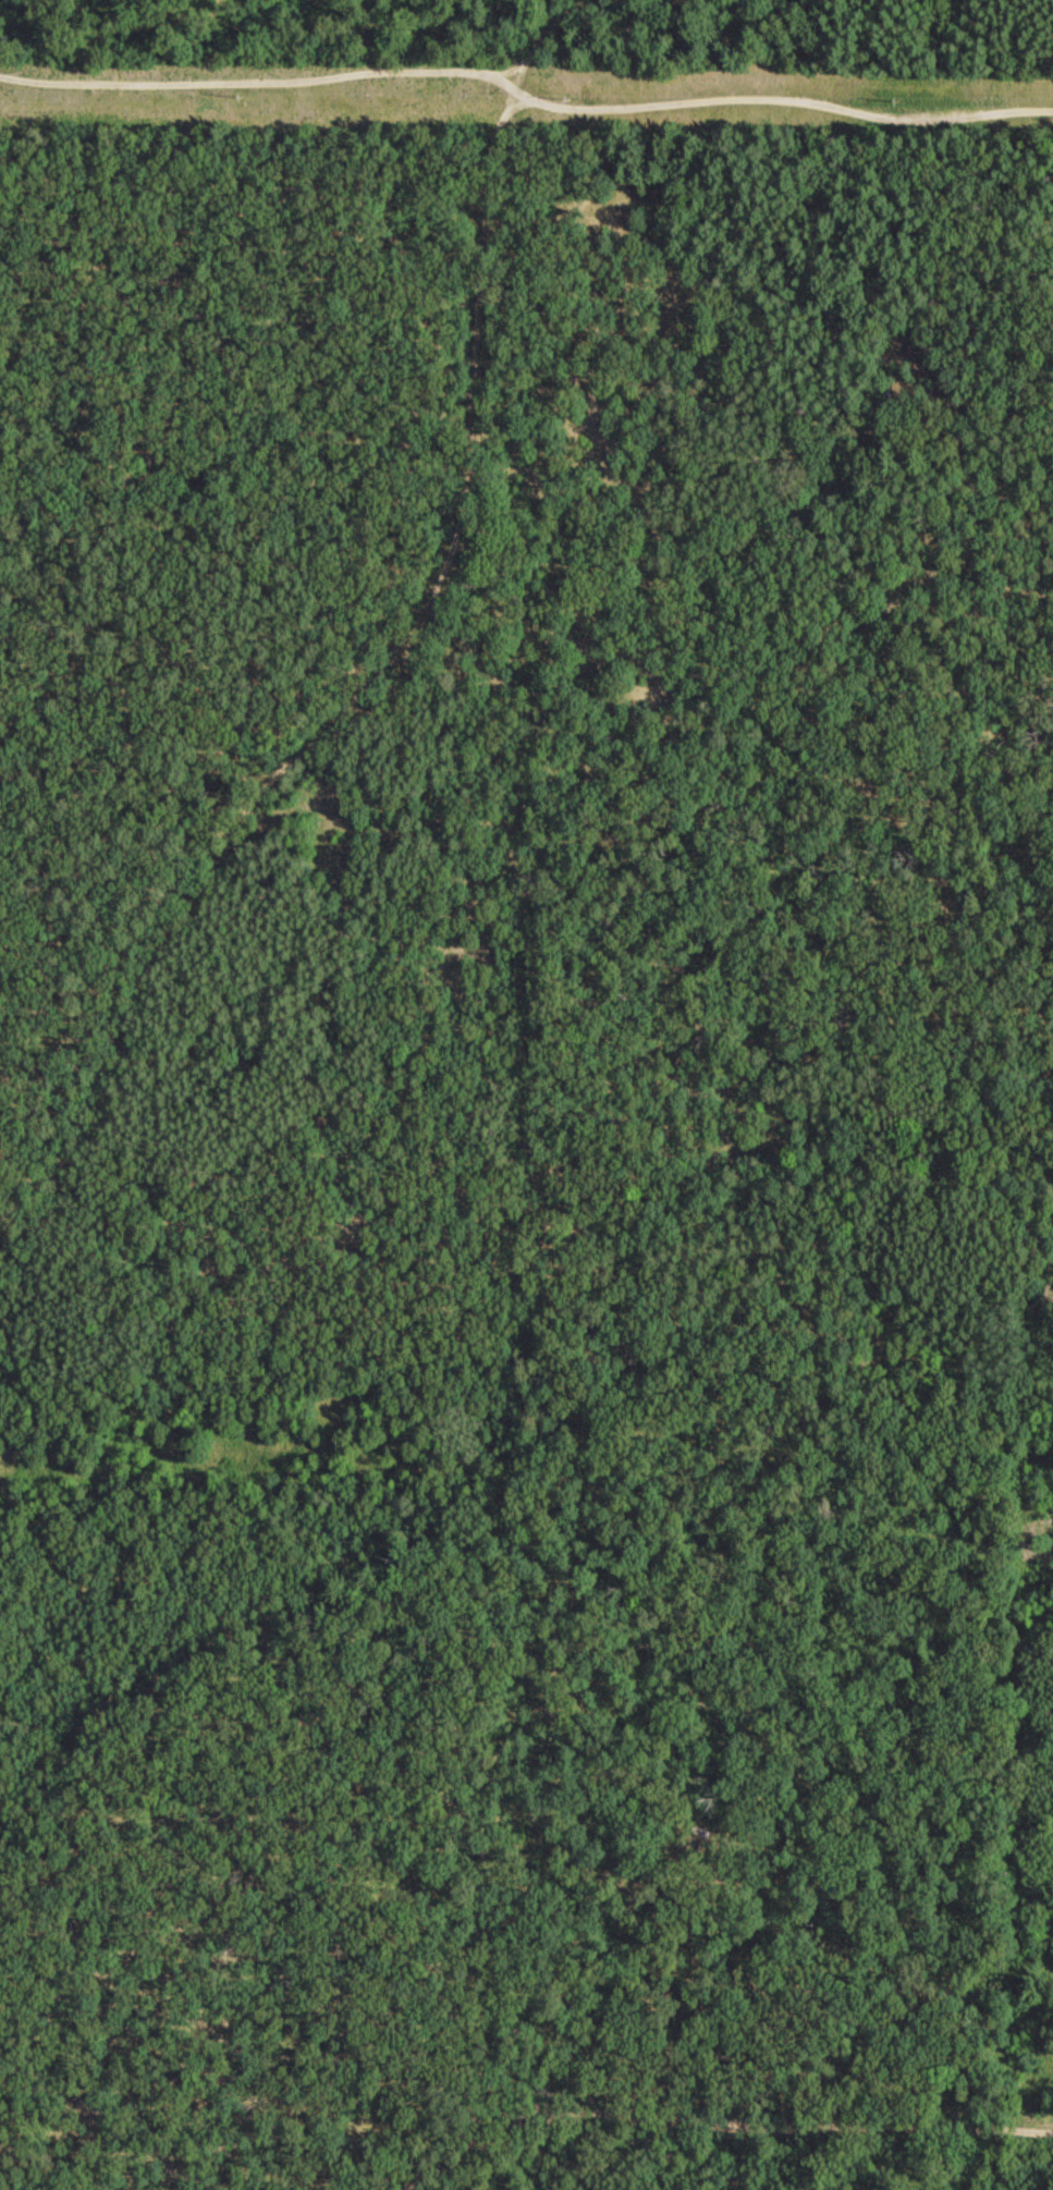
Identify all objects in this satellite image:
road: (815, 2122)

